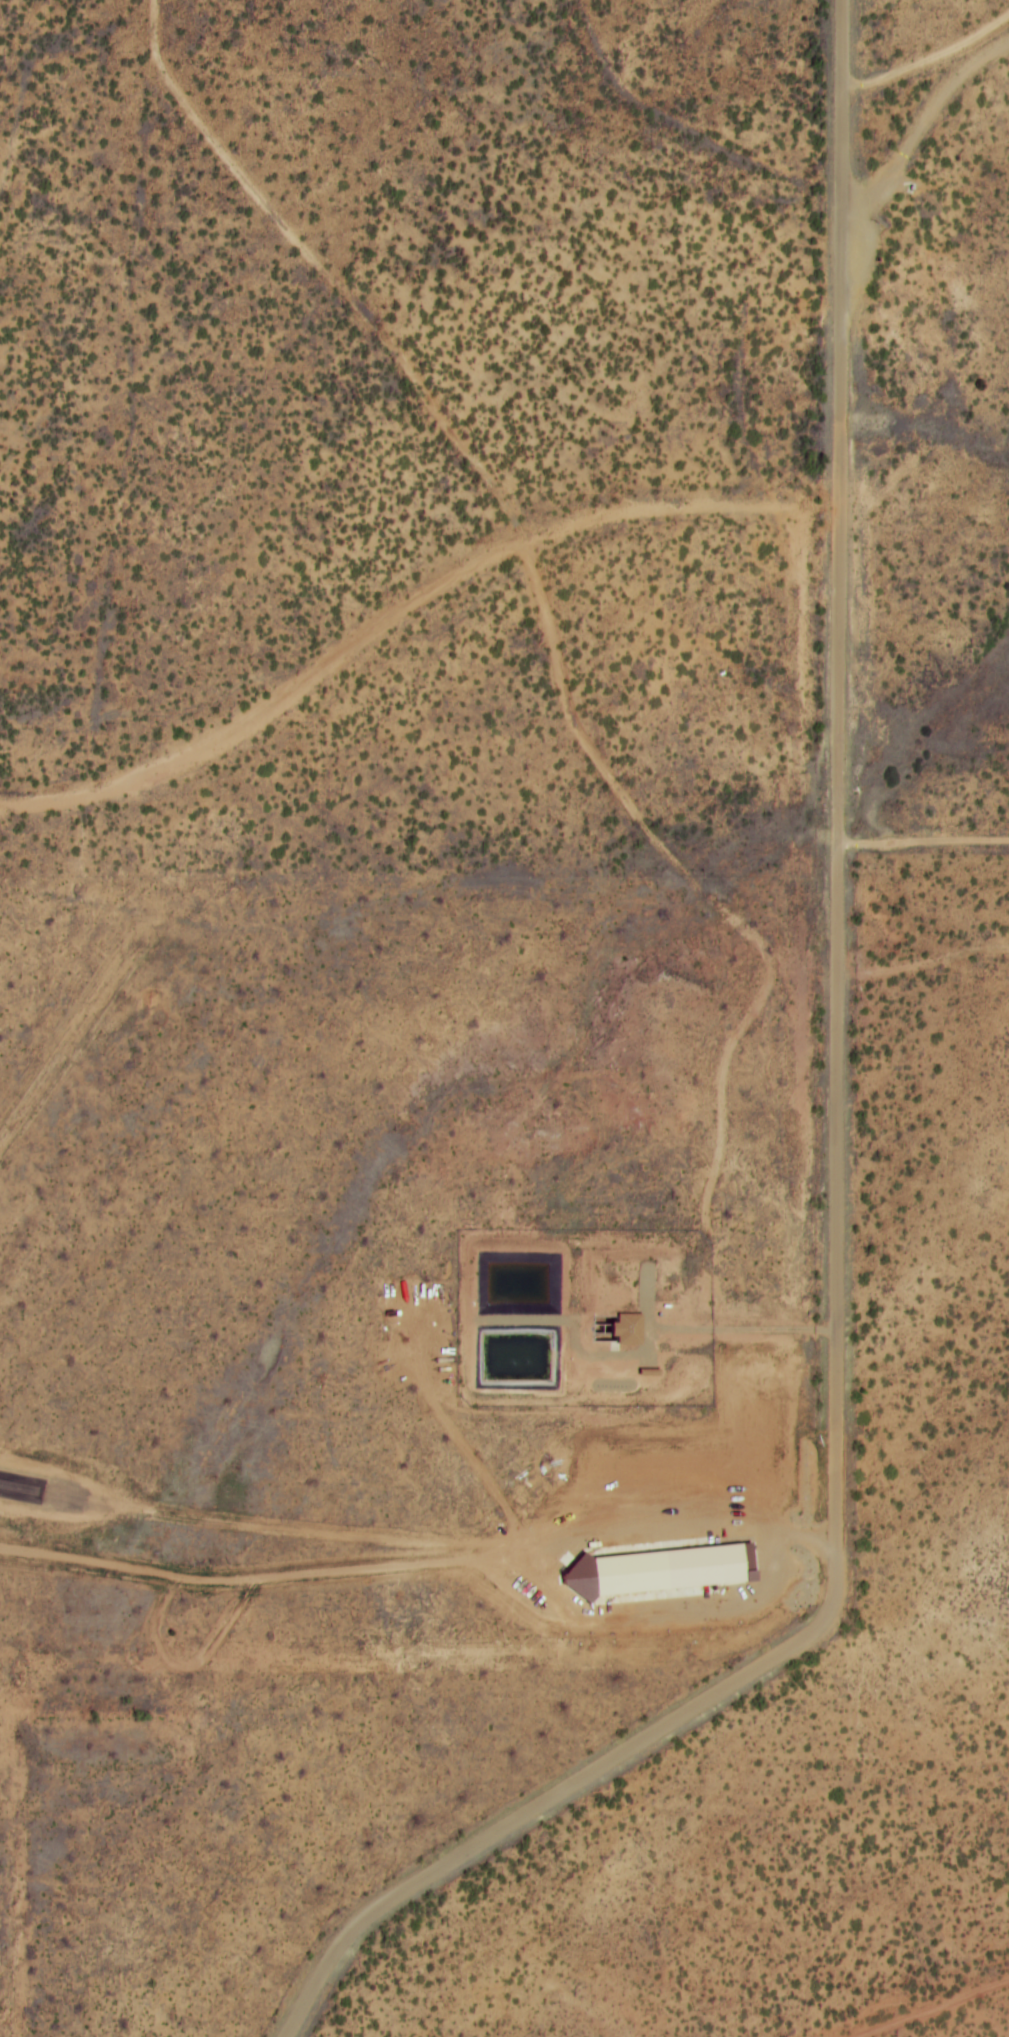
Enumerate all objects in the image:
road: (537, 568)
road: (830, 1151)
building: (627, 1331)
building: (680, 1578)
road: (914, 1997)

